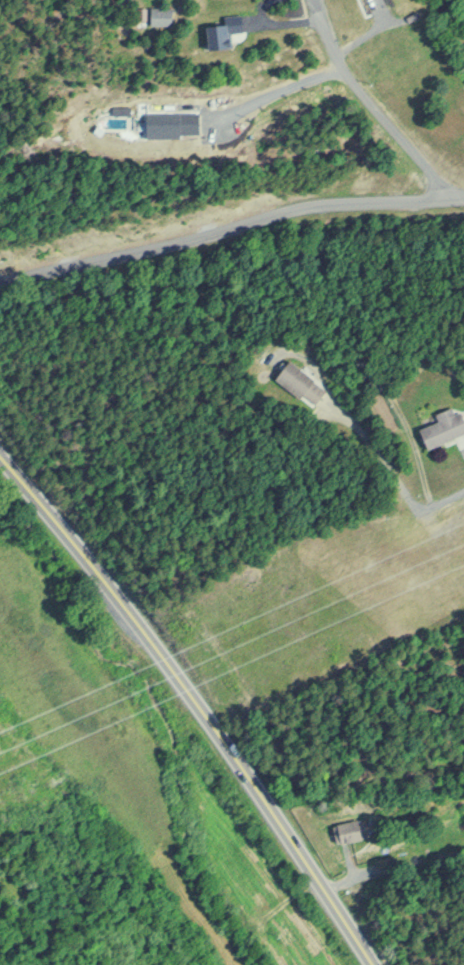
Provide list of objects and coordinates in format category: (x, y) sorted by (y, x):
building: (214, 32)
road: (369, 103)
road: (230, 226)
building: (296, 381)
building: (381, 411)
building: (438, 425)
road: (377, 450)
road: (414, 453)
road: (438, 497)
road: (80, 551)
road: (263, 809)
building: (346, 825)
road: (335, 881)

